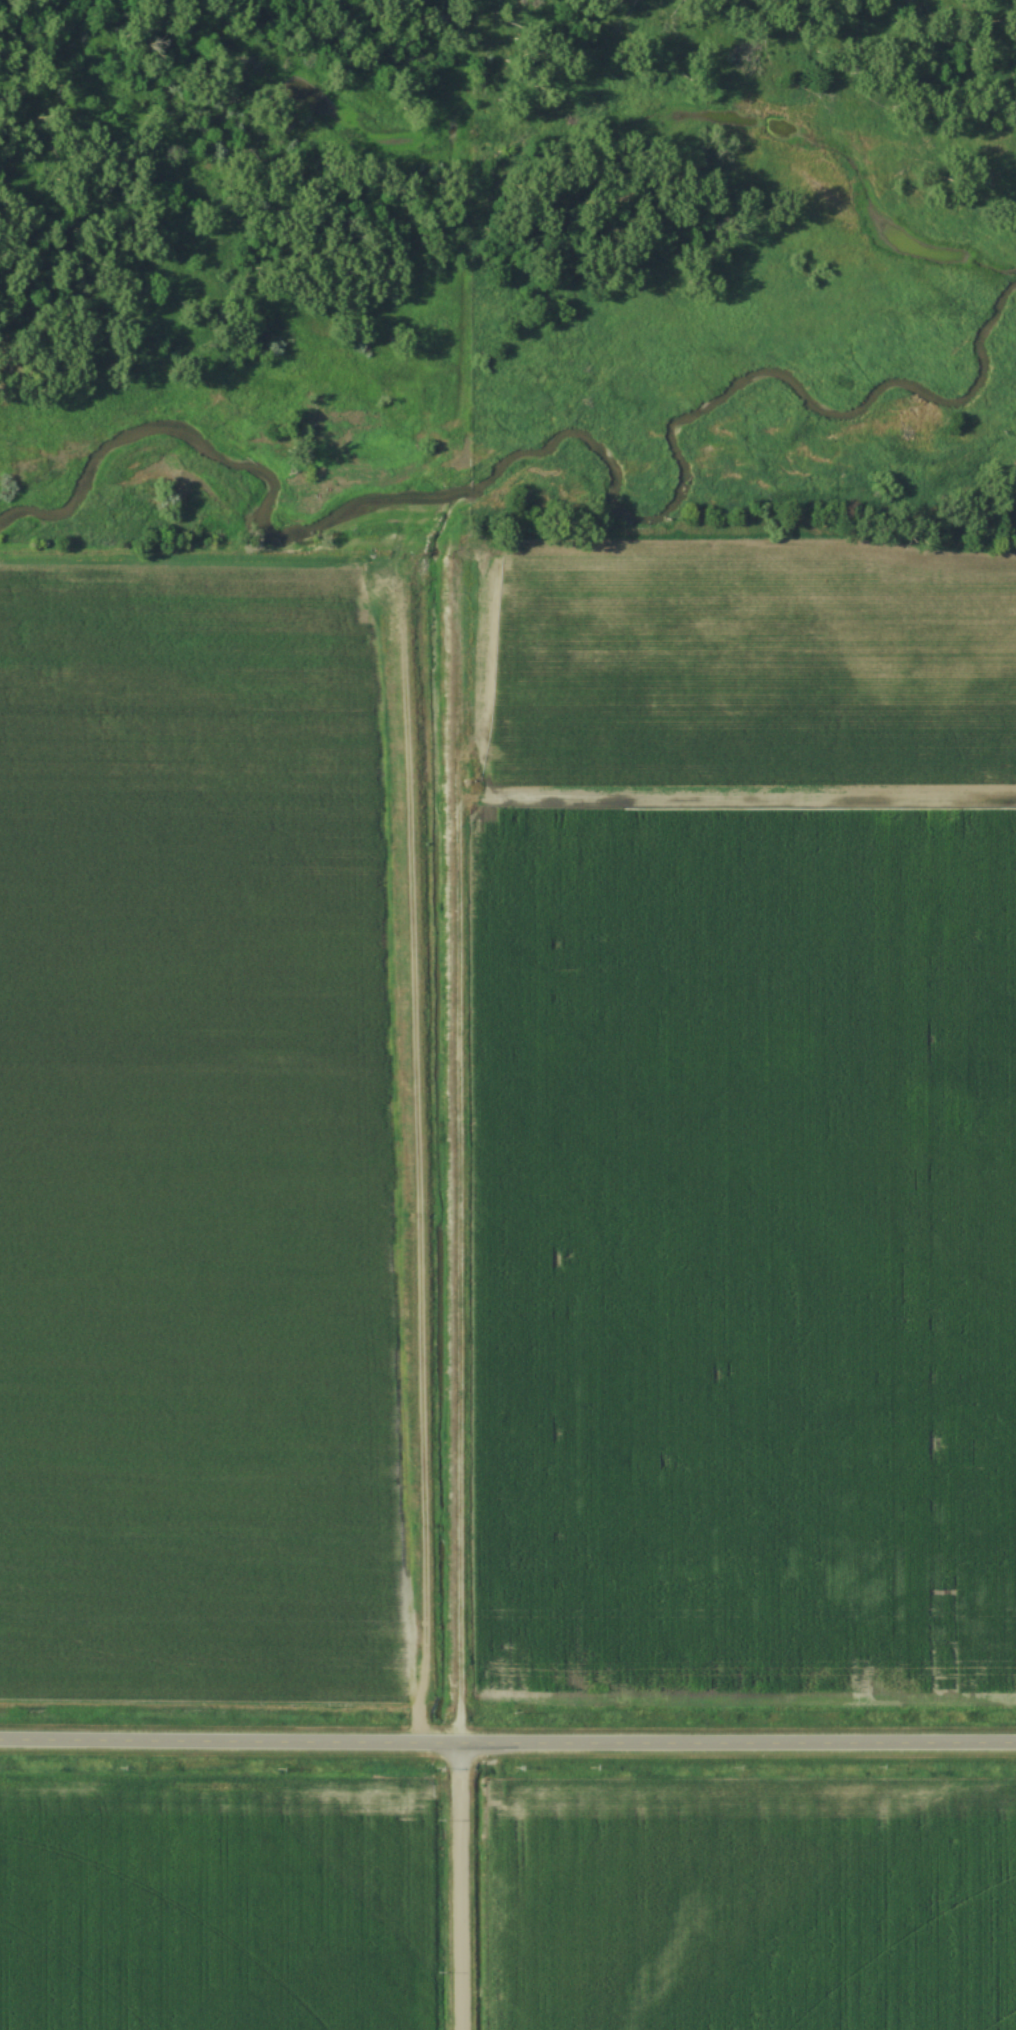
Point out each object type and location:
road: (507, 1745)
road: (456, 1887)

